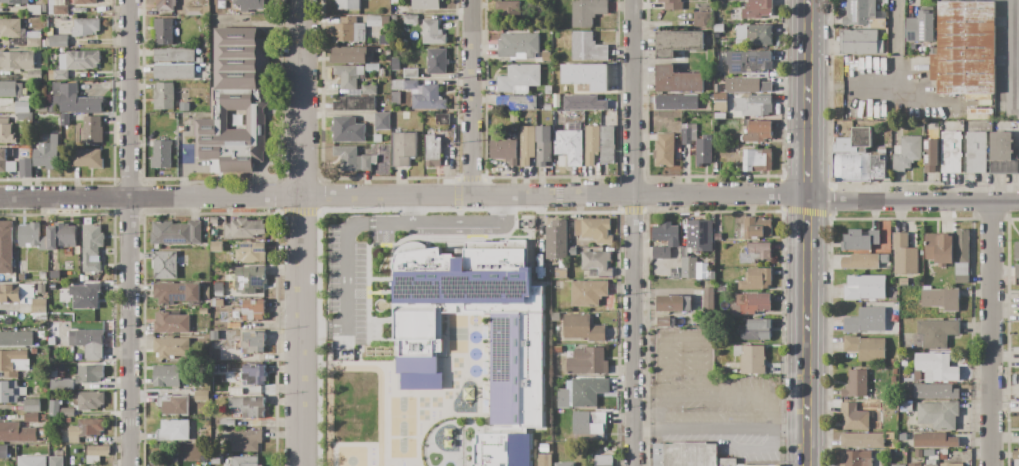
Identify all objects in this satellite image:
building: (13, 2)
building: (83, 2)
building: (393, 2)
building: (347, 4)
building: (426, 4)
building: (672, 4)
building: (165, 5)
building: (249, 5)
building: (508, 7)
building: (57, 8)
building: (757, 9)
building: (33, 10)
building: (587, 11)
building: (193, 12)
building: (859, 12)
building: (410, 20)
building: (703, 20)
building: (384, 21)
building: (85, 27)
road: (896, 27)
building: (920, 28)
building: (163, 31)
building: (19, 33)
building: (348, 33)
building: (431, 33)
building: (760, 36)
building: (58, 41)
building: (859, 42)
building: (677, 43)
building: (518, 46)
building: (587, 48)
building: (965, 50)
building: (173, 55)
building: (348, 55)
road: (1017, 55)
building: (17, 60)
building: (81, 60)
building: (199, 60)
building: (436, 61)
building: (746, 63)
building: (174, 71)
building: (381, 73)
building: (410, 73)
building: (34, 75)
building: (61, 75)
building: (347, 75)
building: (586, 75)
building: (518, 79)
building: (677, 80)
building: (747, 85)
road: (852, 87)
building: (10, 89)
building: (369, 90)
building: (548, 90)
building: (421, 94)
building: (163, 96)
road: (471, 97)
building: (76, 100)
building: (236, 101)
building: (720, 101)
building: (676, 102)
building: (984, 102)
building: (354, 103)
building: (516, 103)
building: (582, 103)
building: (753, 106)
building: (22, 107)
building: (184, 107)
building: (547, 107)
building: (979, 113)
building: (513, 117)
building: (25, 118)
building: (442, 119)
building: (382, 121)
building: (930, 128)
building: (92, 130)
building: (347, 130)
building: (6, 132)
building: (756, 132)
building: (377, 138)
building: (854, 142)
building: (569, 144)
building: (591, 144)
building: (697, 144)
building: (527, 145)
building: (607, 145)
building: (543, 146)
building: (403, 149)
building: (664, 150)
building: (432, 151)
building: (504, 151)
building: (950, 152)
building: (974, 152)
building: (906, 153)
building: (1000, 153)
building: (161, 154)
building: (930, 155)
building: (45, 156)
building: (87, 158)
building: (3, 160)
building: (351, 160)
building: (757, 160)
building: (857, 167)
building: (25, 168)
road: (510, 194)
road: (410, 208)
building: (213, 220)
road: (365, 221)
building: (757, 228)
building: (243, 229)
building: (593, 229)
building: (176, 232)
road: (633, 232)
building: (661, 232)
road: (806, 232)
road: (128, 233)
road: (299, 233)
building: (29, 235)
building: (65, 235)
building: (560, 237)
building: (51, 238)
building: (860, 241)
building: (43, 243)
building: (695, 245)
building: (6, 247)
building: (91, 247)
building: (216, 247)
building: (938, 248)
building: (572, 251)
building: (1016, 252)
building: (251, 253)
building: (660, 253)
building: (756, 253)
building: (903, 254)
building: (961, 256)
building: (864, 261)
building: (596, 262)
building: (164, 265)
building: (1016, 271)
building: (55, 275)
building: (42, 276)
building: (706, 276)
building: (22, 277)
building: (249, 279)
building: (756, 280)
building: (903, 282)
building: (218, 286)
building: (864, 287)
building: (42, 288)
building: (176, 292)
building: (16, 293)
building: (206, 293)
building: (219, 293)
building: (586, 293)
building: (85, 296)
building: (707, 298)
building: (940, 298)
building: (673, 303)
building: (751, 303)
building: (37, 305)
building: (204, 311)
building: (253, 311)
building: (866, 321)
building: (663, 322)
building: (171, 323)
building: (233, 325)
building: (582, 328)
building: (760, 328)
building: (515, 332)
building: (936, 333)
road: (991, 334)
road: (681, 338)
building: (16, 339)
building: (253, 342)
building: (89, 343)
building: (171, 348)
building: (866, 349)
building: (750, 359)
building: (14, 362)
building: (587, 362)
building: (904, 363)
building: (222, 367)
building: (936, 367)
building: (894, 371)
building: (88, 374)
building: (254, 374)
building: (166, 376)
building: (893, 379)
building: (61, 384)
building: (856, 384)
building: (1018, 390)
building: (10, 391)
building: (235, 391)
building: (934, 392)
road: (717, 393)
building: (588, 394)
building: (902, 395)
building: (201, 396)
building: (89, 400)
building: (1018, 404)
building: (31, 405)
building: (174, 405)
building: (247, 406)
building: (905, 406)
building: (55, 409)
building: (67, 412)
building: (858, 414)
building: (939, 415)
building: (31, 417)
building: (66, 420)
building: (227, 423)
building: (589, 425)
road: (729, 428)
building: (85, 429)
building: (173, 430)
building: (17, 432)
building: (245, 440)
building: (862, 441)
building: (935, 441)
building: (501, 449)
road: (748, 449)
building: (2, 452)
building: (96, 453)
building: (689, 455)
building: (1015, 455)
building: (203, 457)
building: (855, 458)
building: (56, 460)
building: (215, 460)
building: (544, 460)
building: (603, 460)
building: (31, 461)
building: (244, 461)
building: (562, 464)
building: (914, 464)
building: (163, 465)
building: (898, 465)
building: (930, 465)
building: (951, 465)

